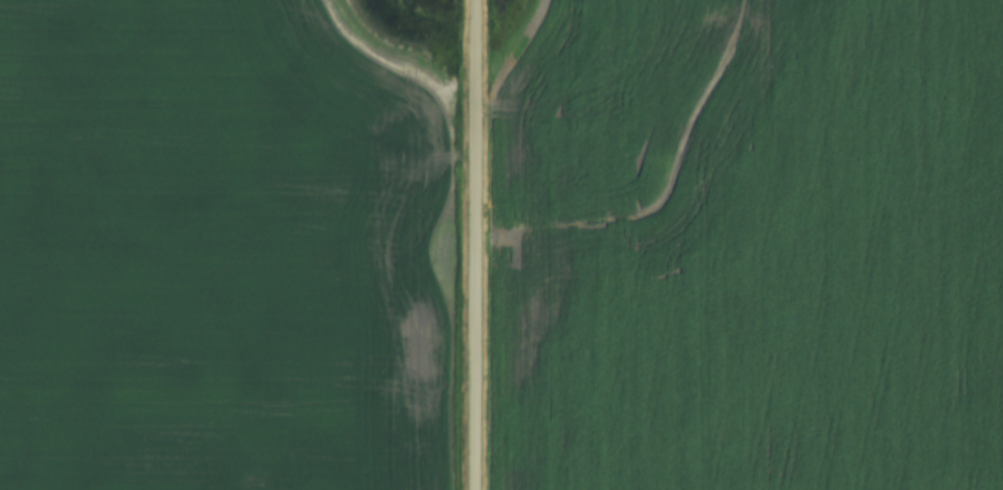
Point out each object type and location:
road: (477, 244)

